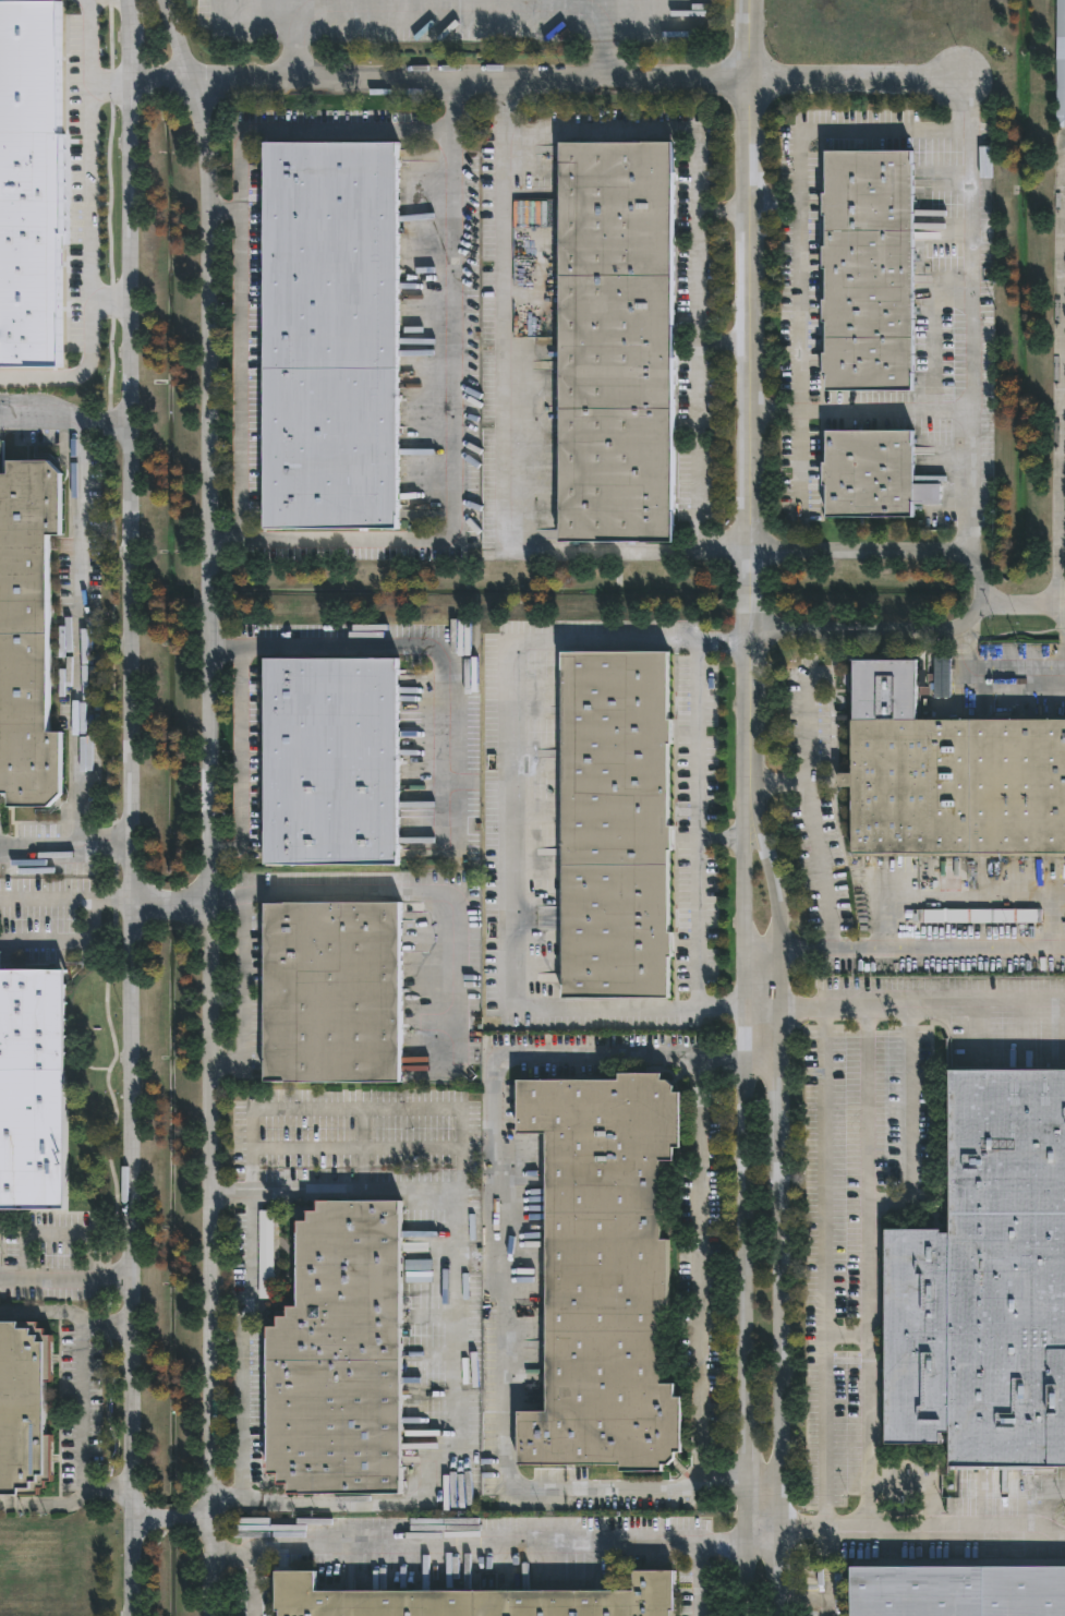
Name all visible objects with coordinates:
road: (445, 5)
building: (1060, 64)
road: (114, 86)
road: (552, 86)
road: (968, 107)
road: (92, 150)
road: (970, 153)
road: (722, 205)
road: (227, 206)
road: (695, 243)
building: (870, 272)
road: (799, 334)
building: (328, 338)
building: (615, 341)
road: (722, 343)
road: (88, 358)
road: (748, 403)
road: (929, 409)
road: (45, 411)
road: (500, 438)
road: (1061, 469)
building: (868, 477)
road: (228, 534)
road: (264, 538)
road: (987, 589)
road: (1024, 601)
road: (1061, 602)
road: (78, 611)
building: (25, 637)
road: (426, 646)
road: (1004, 676)
road: (808, 731)
road: (240, 759)
building: (329, 764)
building: (949, 777)
road: (215, 805)
road: (131, 807)
road: (699, 820)
building: (614, 827)
road: (721, 839)
road: (507, 840)
road: (64, 848)
parking lot: (31, 891)
road: (377, 896)
road: (45, 900)
road: (110, 900)
road: (776, 906)
road: (66, 941)
road: (836, 944)
building: (329, 994)
road: (244, 996)
road: (921, 1004)
road: (782, 1078)
building: (31, 1092)
road: (355, 1109)
road: (743, 1211)
road: (825, 1266)
road: (869, 1266)
road: (699, 1273)
building: (602, 1274)
road: (65, 1277)
building: (985, 1285)
road: (499, 1290)
road: (66, 1313)
road: (786, 1337)
road: (453, 1339)
building: (337, 1358)
road: (241, 1386)
road: (85, 1404)
building: (22, 1409)
road: (68, 1500)
road: (927, 1524)
road: (501, 1545)
road: (786, 1570)
road: (824, 1570)
road: (697, 1579)
road: (249, 1582)
building: (957, 1592)
building: (472, 1601)

